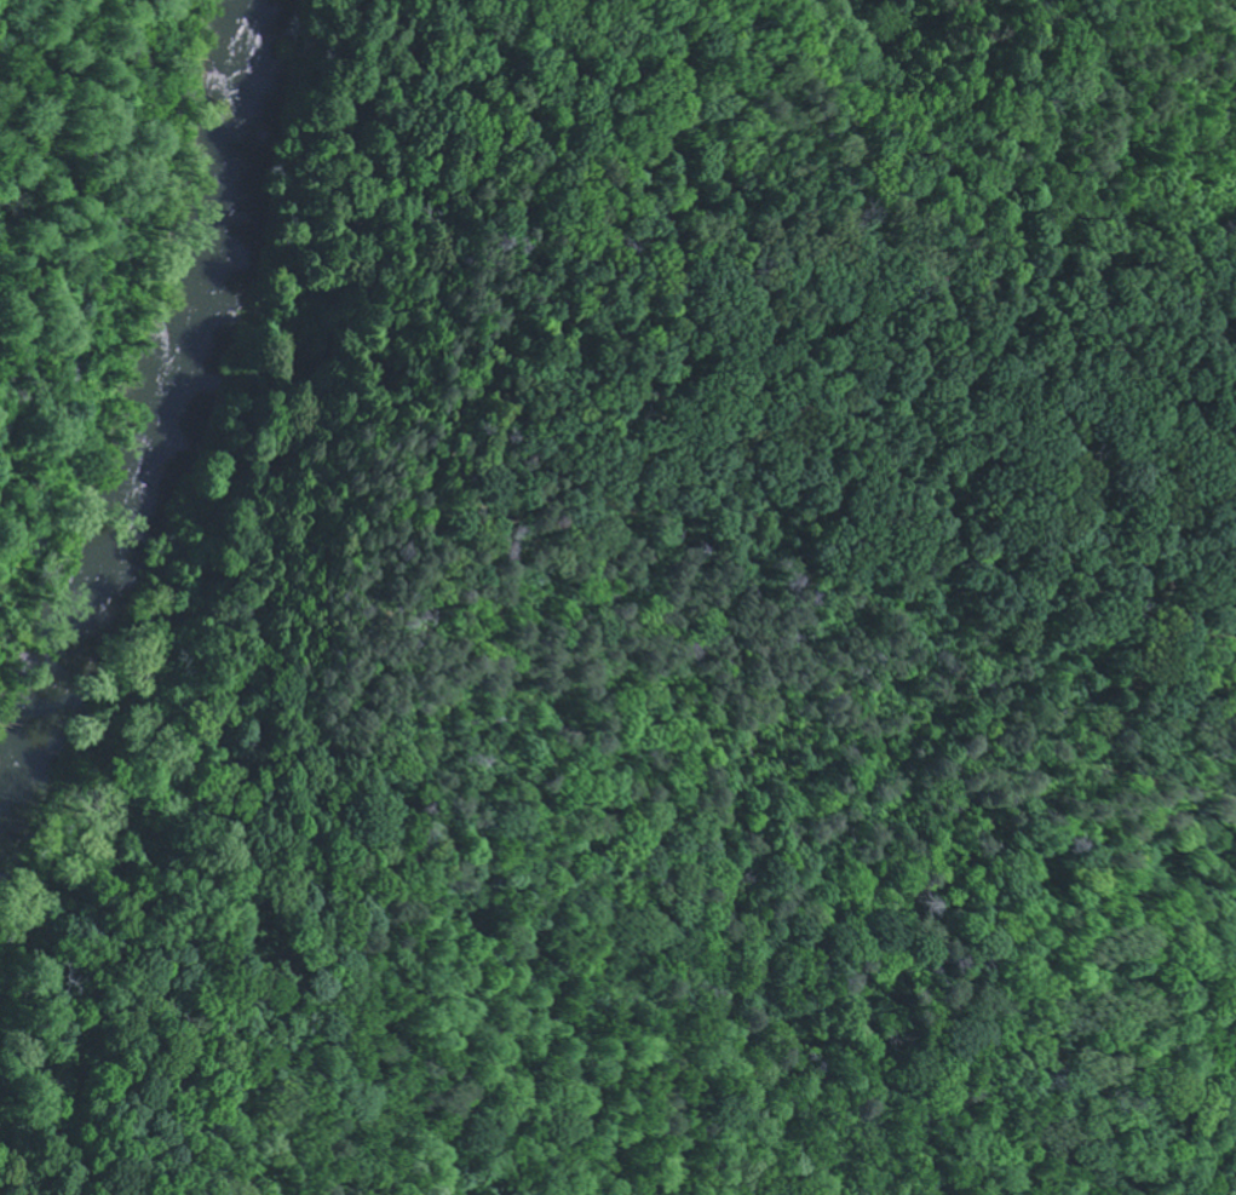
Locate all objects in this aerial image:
river: (177, 412)

